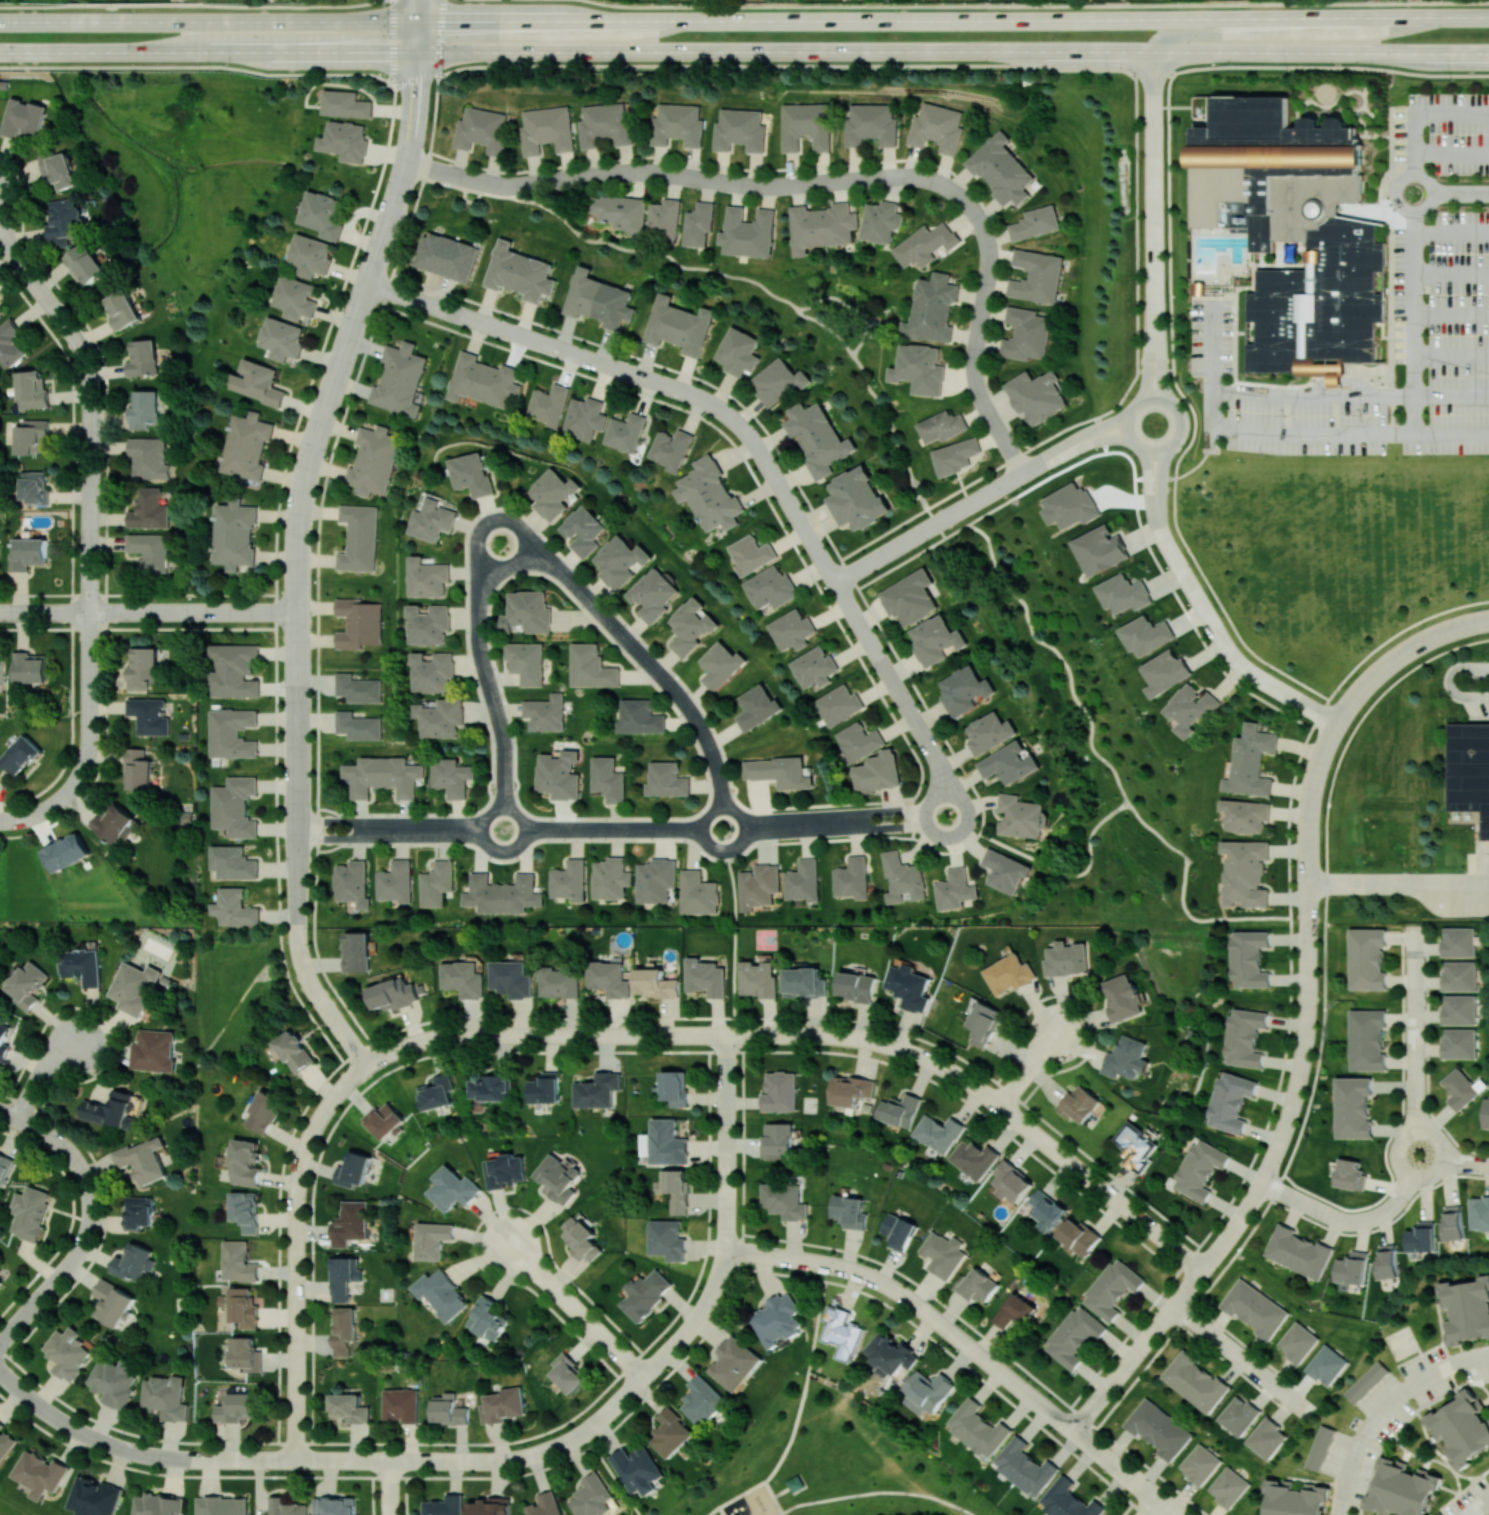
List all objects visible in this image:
park: (46, 0)
road: (192, 4)
road: (1038, 4)
road: (417, 10)
road: (744, 20)
traffic signals: (417, 21)
road: (1292, 32)
road: (440, 35)
road: (417, 36)
road: (392, 40)
road: (744, 50)
traffic signals: (417, 52)
road: (742, 64)
road: (415, 79)
building: (345, 104)
road: (1419, 111)
building: (23, 117)
building: (605, 124)
building: (676, 124)
building: (871, 124)
building: (806, 125)
building: (936, 127)
building: (482, 129)
building: (546, 129)
building: (739, 130)
road: (409, 134)
building: (345, 140)
road: (1450, 154)
park: (146, 165)
building: (60, 169)
building: (1001, 169)
road: (401, 174)
road: (489, 180)
road: (761, 183)
road: (465, 188)
road: (1459, 191)
road: (395, 197)
road: (1153, 198)
road: (1396, 201)
road: (968, 202)
building: (621, 212)
road: (390, 213)
building: (322, 214)
building: (664, 218)
building: (64, 221)
building: (880, 221)
building: (1035, 222)
building: (698, 224)
building: (821, 226)
building: (748, 232)
building: (1295, 232)
road: (381, 238)
road: (5, 239)
building: (925, 244)
building: (310, 255)
building: (446, 256)
building: (85, 263)
road: (371, 269)
building: (519, 272)
building: (1036, 276)
road: (759, 287)
building: (296, 297)
road: (415, 298)
building: (598, 299)
road: (983, 300)
road: (844, 305)
building: (933, 308)
building: (122, 309)
building: (0, 310)
road: (1409, 323)
building: (679, 325)
building: (1025, 333)
building: (282, 338)
building: (9, 344)
building: (739, 351)
building: (143, 358)
building: (920, 368)
road: (1154, 370)
road: (1159, 371)
road: (1144, 372)
building: (399, 379)
building: (483, 381)
building: (257, 382)
building: (778, 382)
building: (31, 389)
road: (1310, 391)
road: (692, 392)
road: (1449, 394)
building: (1036, 395)
road: (1122, 395)
road: (1151, 396)
building: (547, 405)
building: (144, 409)
building: (583, 417)
road: (1114, 418)
road: (1194, 418)
road: (90, 420)
road: (996, 423)
road: (1127, 424)
road: (1179, 424)
building: (942, 426)
building: (625, 432)
road: (1248, 432)
road: (1086, 433)
road: (1101, 434)
building: (32, 436)
building: (817, 437)
road: (1105, 438)
road: (1449, 438)
road: (313, 441)
road: (1137, 442)
building: (247, 447)
road: (1154, 447)
building: (671, 448)
building: (956, 455)
road: (1050, 455)
building: (148, 457)
building: (373, 460)
road: (1185, 472)
road: (1133, 473)
building: (473, 474)
road: (1013, 476)
road: (1161, 476)
road: (1147, 477)
building: (33, 486)
building: (554, 493)
building: (710, 495)
building: (856, 498)
road: (975, 498)
park: (994, 498)
building: (1070, 506)
building: (149, 509)
building: (434, 518)
road: (496, 519)
road: (934, 519)
road: (934, 522)
building: (584, 531)
building: (235, 535)
building: (358, 537)
building: (1100, 550)
building: (150, 551)
building: (27, 552)
building: (750, 554)
road: (878, 555)
road: (317, 557)
building: (620, 561)
building: (429, 577)
road: (573, 583)
building: (770, 588)
building: (1124, 593)
building: (653, 594)
road: (1195, 595)
building: (910, 597)
road: (480, 601)
road: (98, 610)
road: (246, 610)
road: (858, 620)
building: (358, 623)
building: (430, 624)
building: (691, 626)
building: (791, 629)
building: (1147, 635)
road: (297, 639)
building: (936, 639)
road: (1401, 655)
building: (526, 662)
building: (720, 665)
building: (142, 666)
road: (651, 666)
building: (30, 667)
road: (484, 667)
building: (592, 667)
building: (814, 667)
building: (1, 670)
building: (234, 670)
building: (434, 672)
building: (1165, 672)
road: (1452, 682)
building: (358, 688)
building: (964, 689)
road: (1293, 699)
road: (297, 700)
building: (838, 704)
building: (757, 706)
building: (1191, 708)
building: (545, 712)
building: (149, 715)
building: (441, 717)
building: (640, 717)
road: (913, 717)
building: (358, 726)
building: (989, 732)
building: (231, 733)
building: (858, 741)
road: (89, 742)
road: (708, 745)
road: (503, 749)
building: (20, 755)
road: (1104, 761)
building: (1251, 761)
road: (1320, 762)
building: (1009, 763)
building: (1470, 768)
building: (138, 770)
building: (778, 771)
building: (878, 772)
building: (559, 775)
building: (384, 776)
building: (452, 776)
building: (608, 779)
building: (667, 779)
road: (944, 785)
building: (234, 806)
road: (967, 811)
road: (517, 813)
road: (708, 813)
building: (1245, 815)
building: (1021, 816)
road: (898, 819)
road: (333, 820)
road: (925, 820)
road: (856, 821)
building: (114, 823)
road: (792, 824)
road: (425, 828)
road: (613, 828)
road: (298, 829)
road: (333, 837)
road: (488, 843)
road: (738, 844)
building: (66, 851)
road: (1308, 856)
building: (232, 862)
building: (1005, 871)
building: (1245, 872)
road: (1070, 874)
building: (611, 878)
building: (852, 878)
building: (902, 878)
building: (570, 880)
building: (656, 880)
building: (803, 880)
building: (395, 881)
building: (352, 882)
building: (436, 883)
building: (759, 885)
road: (1398, 885)
building: (955, 889)
building: (699, 893)
building: (502, 894)
building: (234, 907)
road: (1308, 917)
road: (733, 937)
building: (1459, 941)
road: (300, 952)
building: (357, 952)
building: (1067, 958)
building: (1249, 958)
building: (1367, 958)
building: (81, 965)
park: (1177, 966)
building: (1010, 974)
building: (1459, 975)
building: (706, 977)
building: (463, 978)
building: (511, 978)
building: (609, 978)
building: (758, 979)
building: (559, 982)
building: (805, 982)
building: (655, 983)
building: (28, 984)
road: (1289, 984)
building: (857, 986)
building: (133, 987)
park: (240, 987)
building: (909, 987)
building: (394, 994)
building: (1124, 997)
building: (1459, 1009)
road: (602, 1017)
road: (336, 1021)
building: (984, 1022)
road: (1416, 1026)
road: (627, 1034)
building: (1244, 1037)
building: (1367, 1040)
building: (4, 1041)
building: (1458, 1042)
road: (902, 1049)
building: (154, 1050)
building: (294, 1051)
building: (1126, 1057)
road: (1027, 1067)
road: (42, 1070)
building: (489, 1087)
building: (675, 1087)
building: (544, 1088)
building: (1459, 1088)
building: (850, 1089)
building: (597, 1090)
building: (780, 1091)
building: (436, 1092)
building: (1230, 1101)
building: (1079, 1103)
building: (1353, 1107)
building: (110, 1109)
building: (899, 1110)
building: (264, 1111)
building: (1486, 1113)
building: (384, 1120)
road: (1405, 1129)
building: (938, 1132)
road: (727, 1140)
building: (777, 1140)
building: (667, 1142)
building: (646, 1144)
building: (1135, 1146)
road: (1060, 1155)
building: (974, 1158)
building: (142, 1160)
building: (246, 1162)
road: (1465, 1163)
building: (5, 1167)
building: (353, 1169)
building: (1199, 1169)
building: (505, 1171)
building: (1350, 1174)
road: (1429, 1174)
building: (557, 1178)
building: (1012, 1181)
road: (1406, 1184)
building: (453, 1188)
building: (676, 1189)
road: (296, 1200)
building: (784, 1200)
road: (1249, 1202)
building: (1047, 1209)
building: (245, 1210)
building: (849, 1211)
building: (30, 1212)
building: (139, 1212)
building: (1479, 1213)
road: (89, 1219)
road: (1333, 1219)
building: (1452, 1222)
building: (350, 1223)
building: (899, 1231)
building: (1079, 1236)
building: (1421, 1237)
building: (432, 1239)
building: (582, 1239)
building: (667, 1239)
building: (1298, 1251)
building: (943, 1254)
building: (238, 1261)
building: (1386, 1261)
building: (133, 1262)
building: (1351, 1268)
road: (778, 1273)
building: (344, 1276)
building: (0, 1281)
building: (976, 1285)
building: (1112, 1288)
building: (645, 1293)
building: (441, 1294)
building: (112, 1303)
road: (916, 1303)
building: (245, 1307)
building: (1255, 1308)
road: (577, 1309)
building: (1467, 1309)
building: (1014, 1311)
building: (488, 1319)
building: (777, 1319)
building: (343, 1327)
building: (842, 1332)
building: (1074, 1336)
road: (989, 1341)
building: (1298, 1342)
park: (1401, 1342)
building: (68, 1352)
building: (245, 1354)
building: (890, 1354)
road: (1242, 1359)
building: (735, 1363)
building: (1327, 1365)
road: (296, 1369)
building: (568, 1373)
road: (983, 1380)
building: (114, 1381)
building: (1196, 1381)
building: (1366, 1381)
road: (802, 1384)
building: (927, 1391)
building: (166, 1397)
building: (702, 1400)
building: (400, 1404)
building: (503, 1405)
building: (236, 1407)
building: (349, 1407)
road: (1384, 1408)
building: (448, 1409)
building: (1239, 1415)
road: (296, 1420)
building: (1462, 1427)
building: (978, 1428)
building: (1158, 1428)
building: (670, 1433)
road: (88, 1435)
building: (1267, 1438)
building: (5, 1442)
road: (559, 1445)
building: (1320, 1447)
road: (245, 1460)
park: (829, 1462)
building: (1200, 1464)
road: (1115, 1465)
building: (1025, 1467)
building: (638, 1469)
building: (40, 1474)
road: (512, 1474)
road: (613, 1480)
building: (794, 1483)
building: (1228, 1486)
road: (389, 1487)
building: (1402, 1489)
road: (876, 1492)
road: (739, 1493)
building: (591, 1496)
road: (771, 1496)
building: (95, 1497)
building: (1295, 1498)
building: (1068, 1500)
building: (158, 1504)
building: (221, 1505)
building: (335, 1505)
building: (445, 1505)
building: (546, 1505)
building: (491, 1506)
road: (1477, 1506)
building: (286, 1507)
road: (1151, 1507)
road: (1167, 1507)
park: (11, 1508)
road: (1125, 1509)
road: (1137, 1509)
road: (711, 1510)
road: (718, 1510)
road: (777, 1513)

